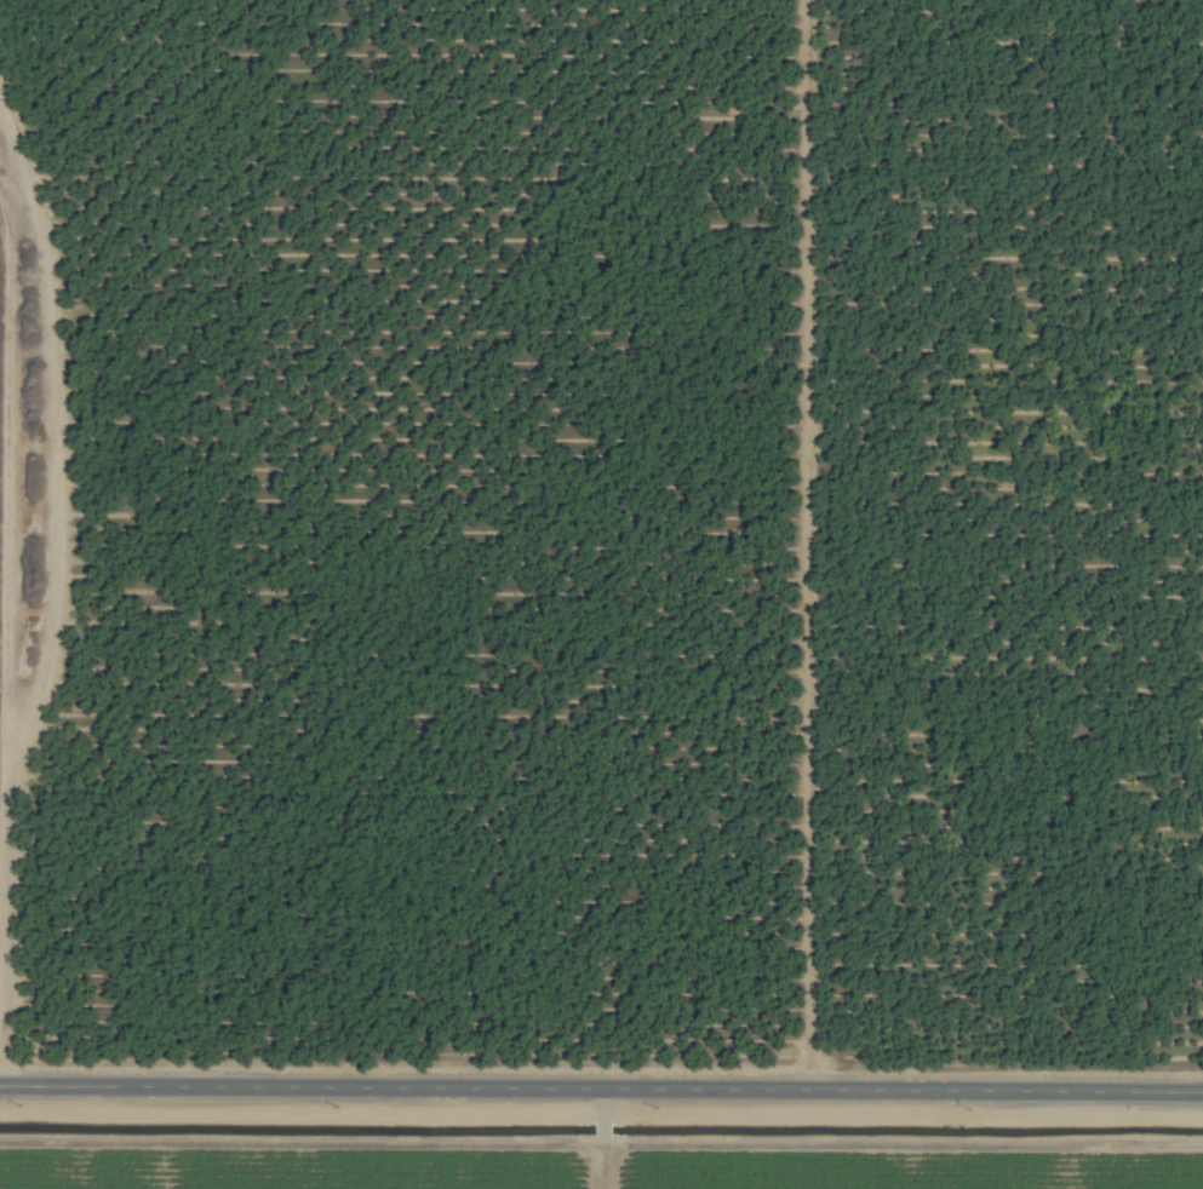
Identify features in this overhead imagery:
road: (808, 542)
crop: (601, 594)
road: (8, 633)
road: (601, 1082)

